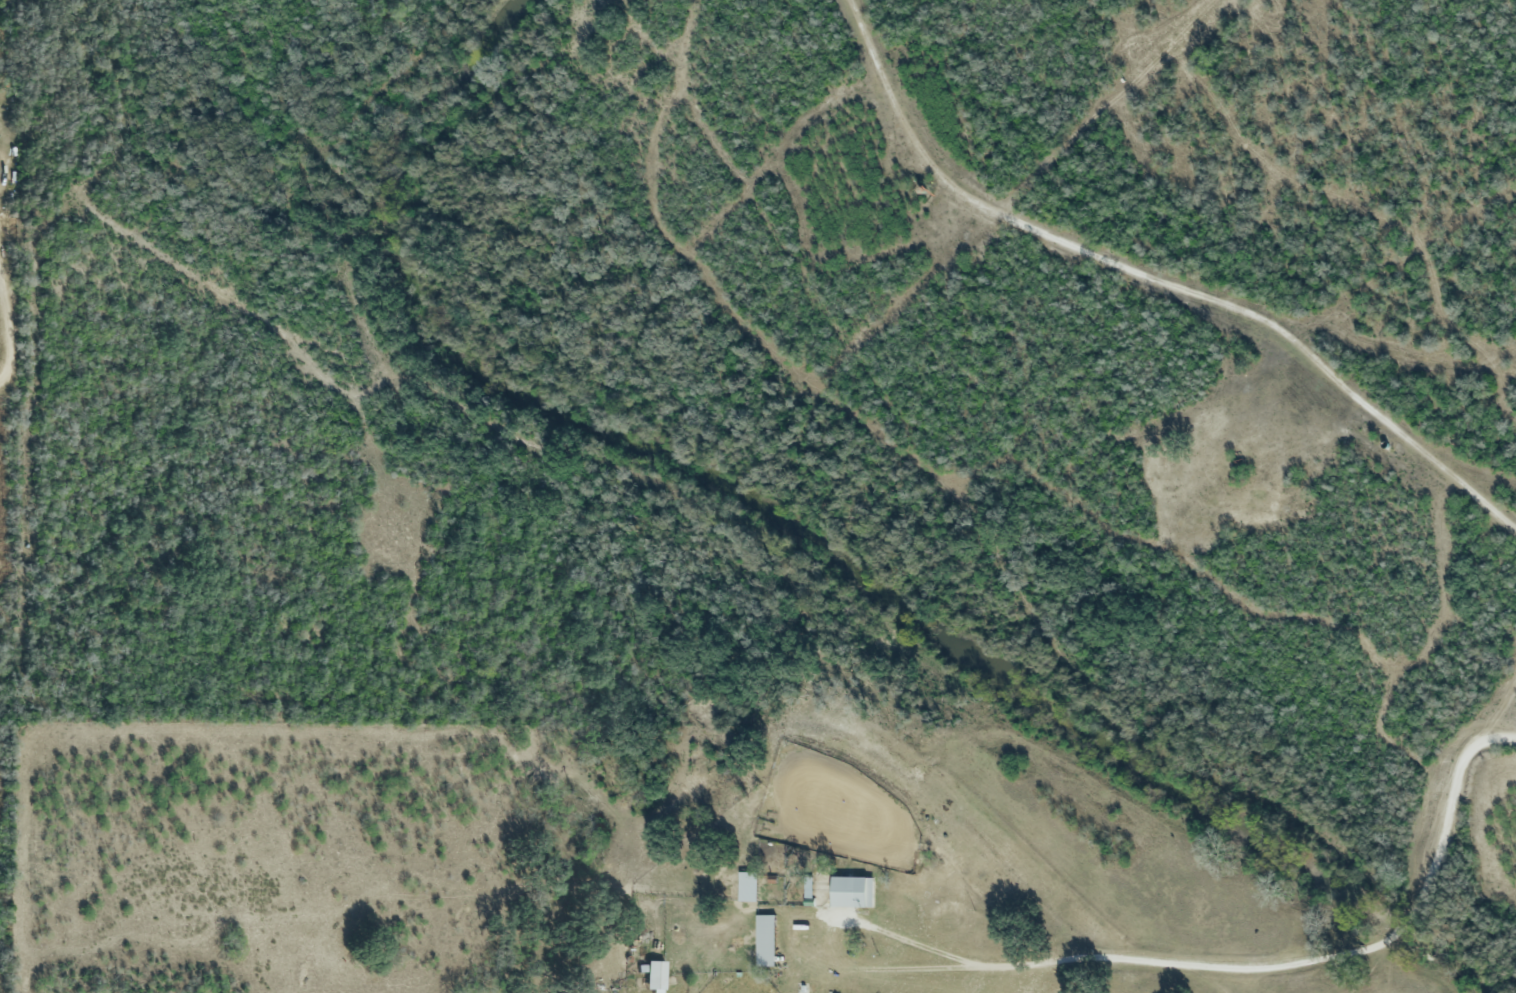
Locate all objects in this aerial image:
building: (852, 892)
road: (1253, 962)
building: (652, 975)

